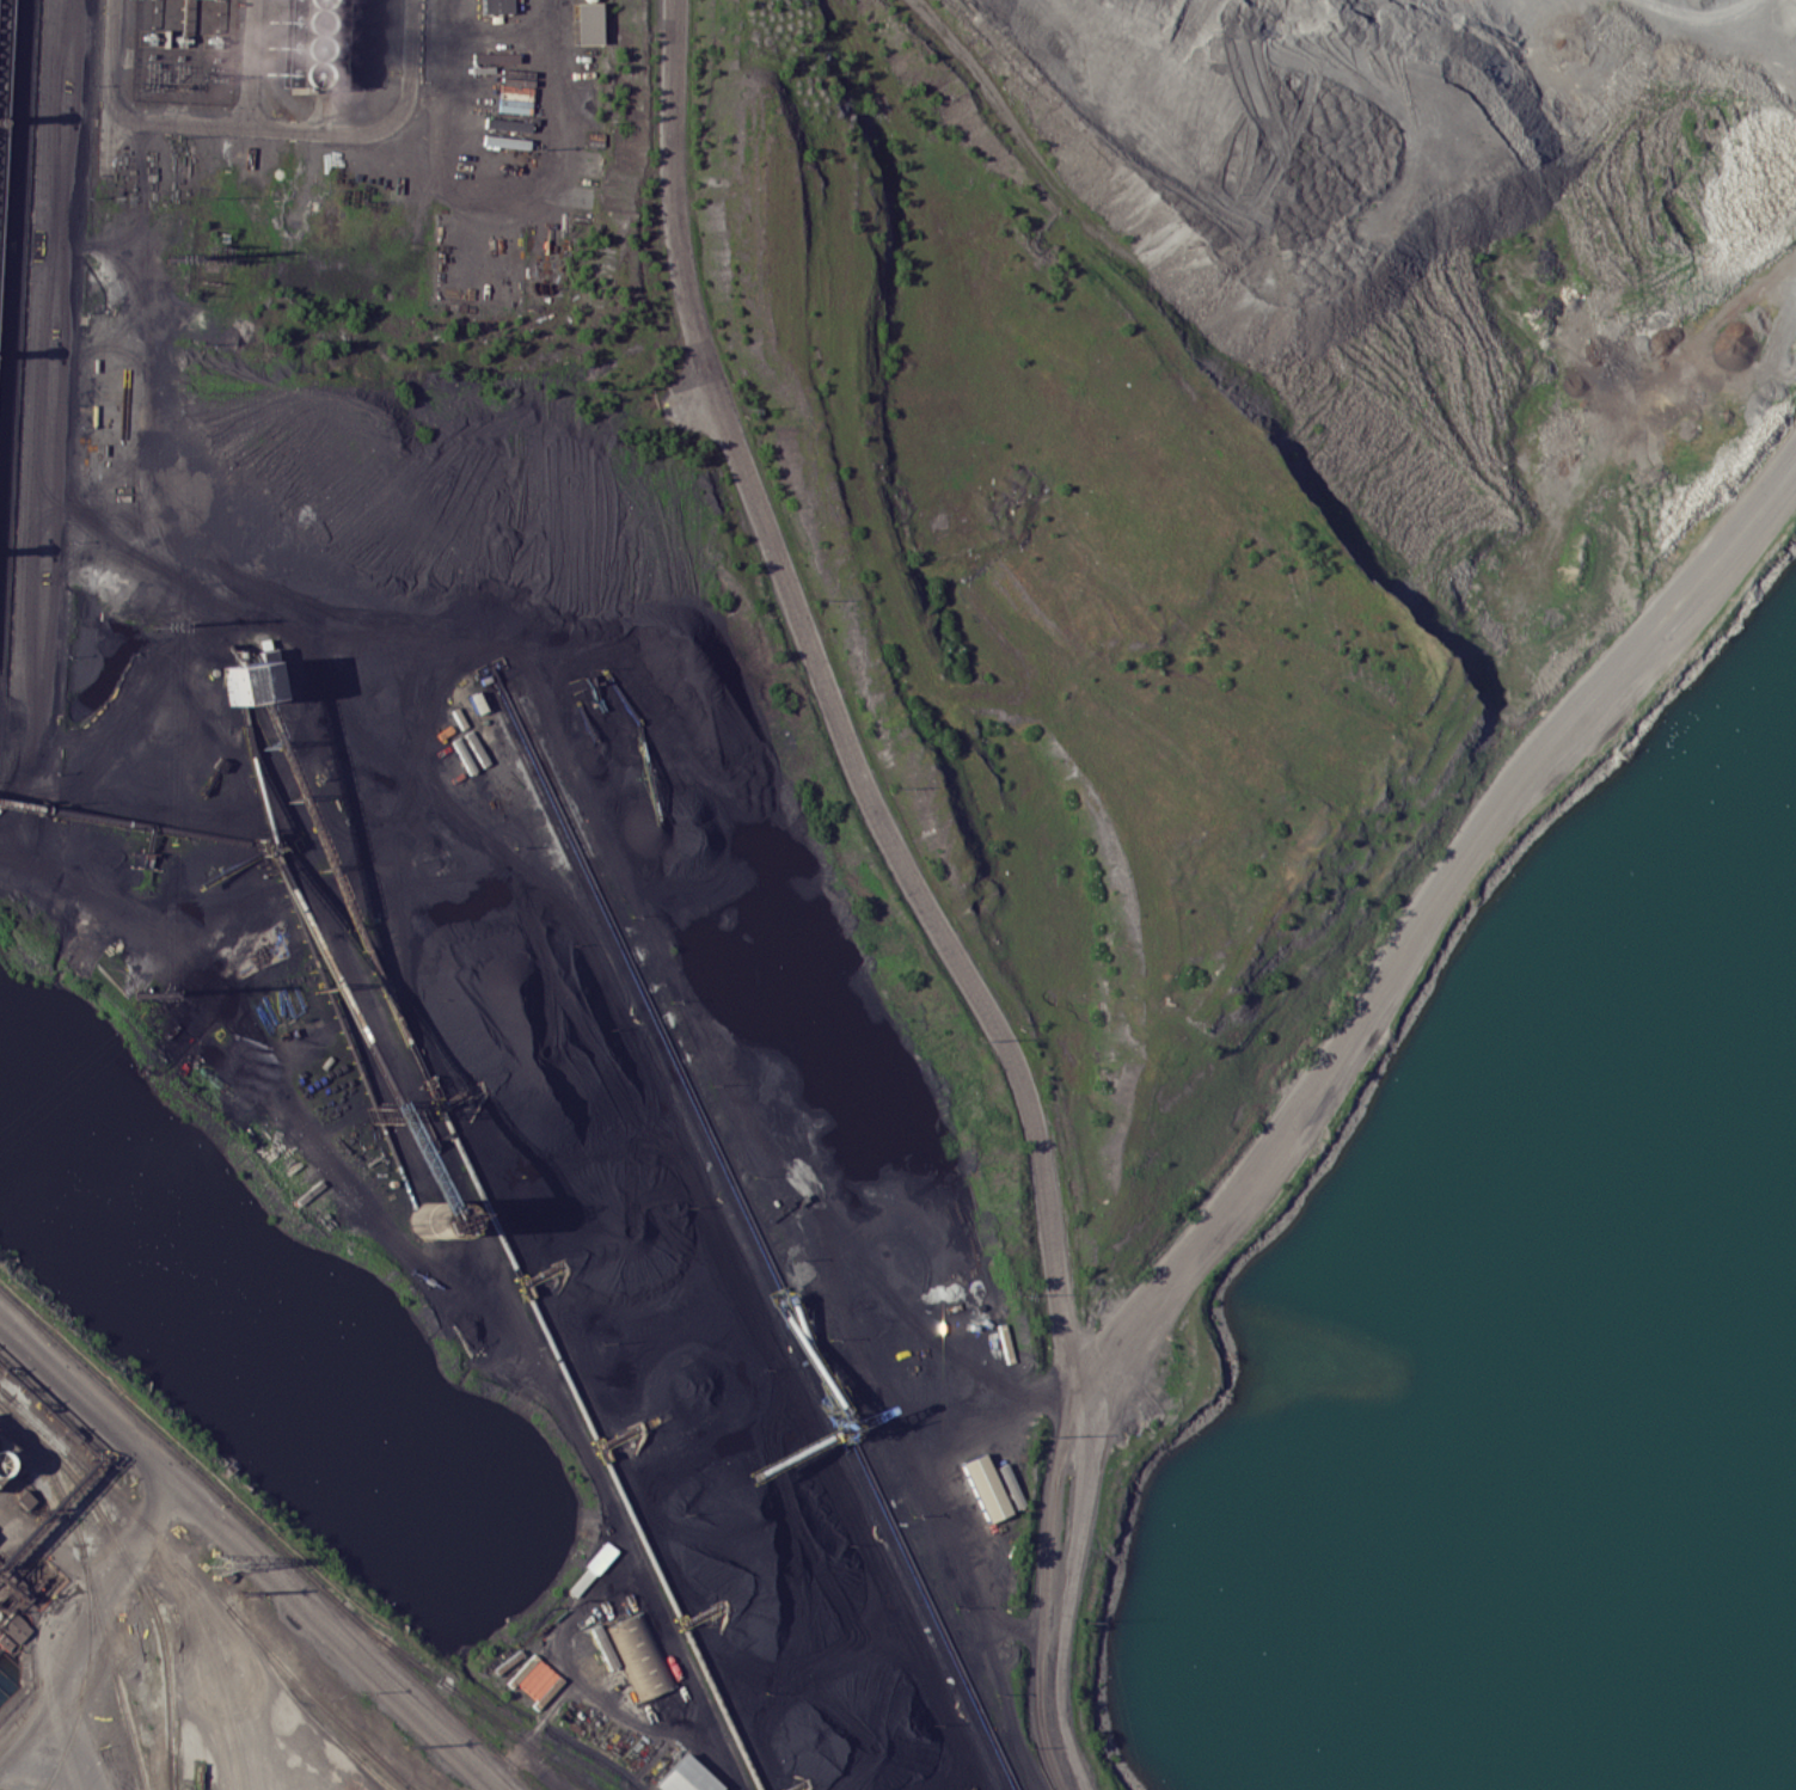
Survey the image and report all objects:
building: (495, 6)
building: (583, 23)
building: (305, 41)
road: (323, 128)
road: (1006, 143)
road: (47, 390)
building: (241, 681)
road: (327, 699)
road: (117, 950)
road: (1046, 1239)
railway: (137, 1417)
road: (563, 1421)
building: (6, 1455)
railway: (80, 1464)
building: (981, 1486)
railway: (87, 1496)
building: (23, 1498)
railway: (68, 1509)
road: (176, 1526)
railway: (191, 1568)
road: (112, 1601)
road: (1067, 1620)
building: (14, 1626)
road: (669, 1635)
railway: (163, 1636)
road: (332, 1637)
railway: (110, 1650)
building: (638, 1655)
railway: (429, 1672)
railway: (437, 1696)
railway: (312, 1697)
railway: (301, 1705)
railway: (78, 1714)
road: (49, 1718)
railway: (168, 1729)
railway: (532, 1734)
railway: (140, 1774)
building: (684, 1776)

